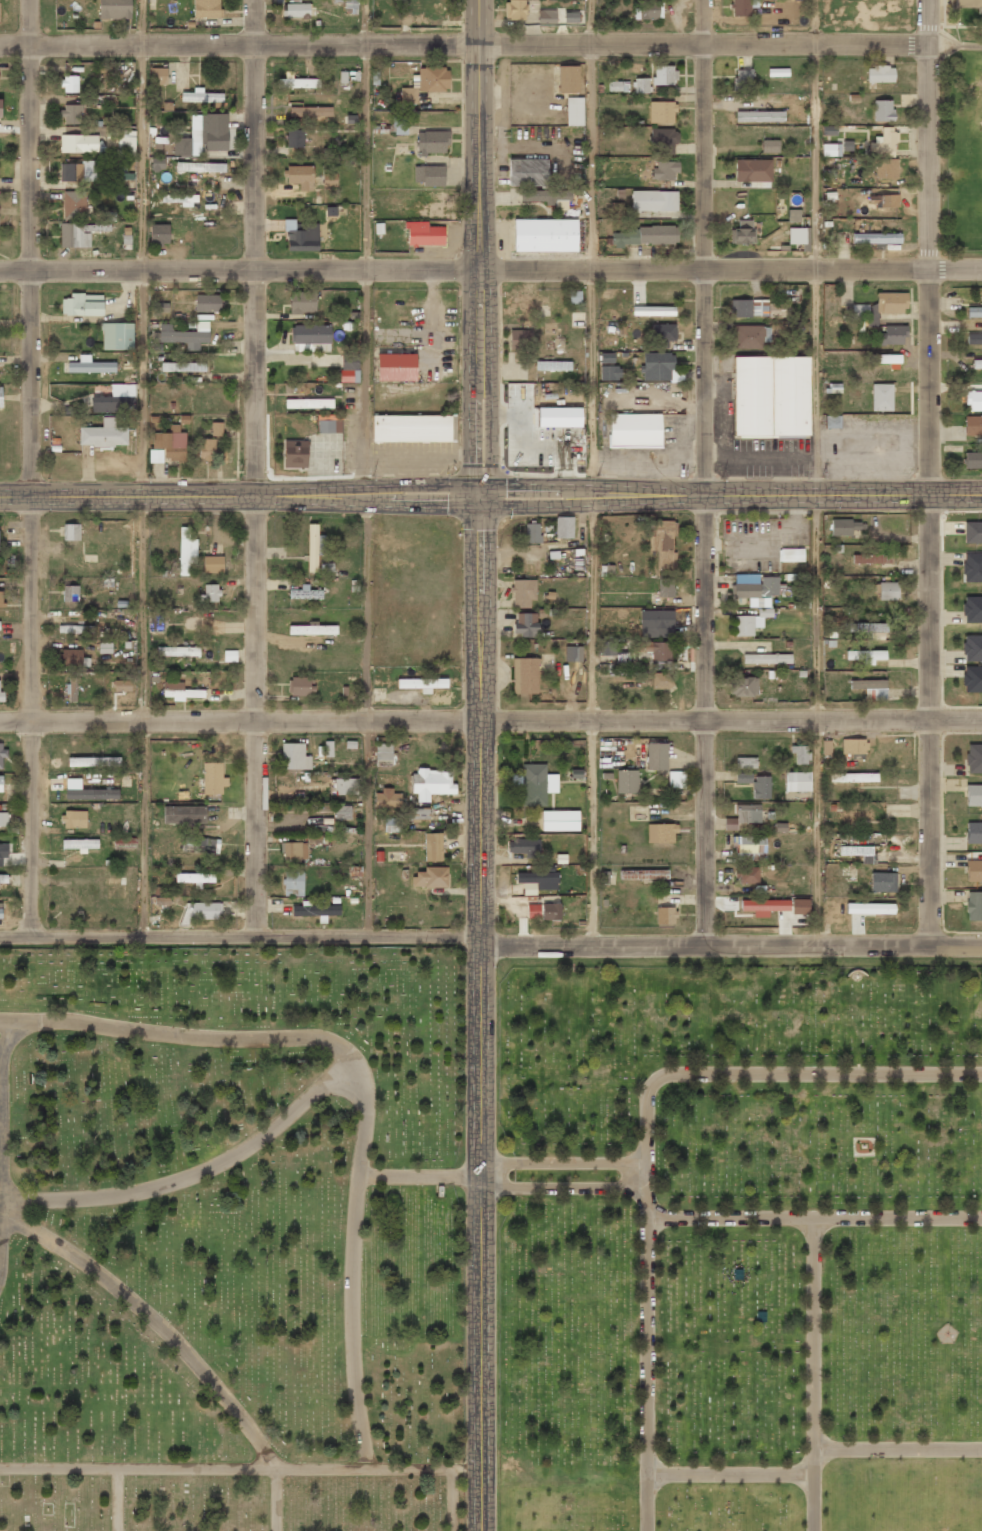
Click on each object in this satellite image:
building: (967, 3)
building: (742, 7)
building: (207, 8)
building: (114, 9)
building: (514, 9)
building: (295, 10)
building: (648, 10)
building: (547, 16)
building: (570, 17)
road: (464, 46)
building: (880, 73)
building: (158, 75)
building: (664, 75)
building: (432, 78)
building: (568, 79)
building: (742, 79)
building: (297, 81)
building: (69, 84)
building: (641, 85)
building: (409, 95)
building: (200, 96)
building: (0, 107)
building: (743, 109)
building: (883, 110)
building: (310, 111)
building: (574, 111)
building: (661, 112)
building: (72, 114)
building: (400, 125)
building: (829, 130)
building: (214, 132)
building: (294, 138)
building: (663, 140)
building: (884, 141)
building: (432, 142)
building: (79, 143)
building: (126, 143)
building: (188, 144)
building: (769, 146)
building: (831, 149)
building: (157, 164)
building: (200, 167)
building: (886, 168)
building: (664, 170)
building: (752, 170)
building: (78, 171)
building: (527, 172)
building: (429, 175)
building: (300, 176)
building: (329, 179)
building: (545, 195)
building: (180, 199)
building: (654, 200)
building: (886, 200)
building: (74, 204)
building: (438, 210)
building: (793, 215)
building: (159, 233)
building: (742, 233)
building: (424, 234)
building: (545, 235)
building: (644, 235)
building: (796, 235)
building: (303, 237)
building: (876, 238)
road: (477, 246)
road: (491, 270)
building: (574, 296)
building: (302, 301)
building: (207, 302)
building: (82, 304)
building: (518, 305)
building: (160, 307)
building: (748, 307)
building: (878, 307)
building: (653, 310)
building: (974, 311)
building: (662, 334)
building: (892, 334)
building: (185, 335)
building: (117, 336)
building: (750, 336)
building: (311, 337)
building: (974, 338)
building: (520, 339)
building: (884, 358)
building: (977, 363)
building: (553, 365)
building: (91, 366)
building: (656, 366)
building: (183, 367)
building: (396, 367)
building: (608, 367)
building: (349, 369)
building: (771, 396)
building: (0, 397)
building: (881, 397)
building: (115, 400)
building: (974, 400)
building: (308, 402)
building: (558, 417)
building: (329, 423)
building: (973, 425)
building: (216, 428)
building: (411, 428)
building: (634, 429)
building: (103, 434)
building: (170, 443)
building: (207, 449)
building: (295, 453)
building: (155, 455)
building: (973, 460)
road: (32, 467)
road: (141, 467)
road: (251, 467)
road: (366, 467)
road: (592, 469)
road: (817, 472)
road: (706, 473)
road: (934, 473)
road: (240, 492)
road: (732, 492)
building: (844, 526)
building: (564, 527)
building: (71, 532)
building: (532, 532)
building: (972, 532)
building: (662, 542)
building: (314, 546)
building: (186, 551)
building: (790, 554)
building: (871, 558)
building: (213, 564)
building: (972, 567)
building: (665, 587)
building: (755, 588)
building: (888, 590)
building: (523, 592)
building: (70, 593)
building: (210, 593)
building: (306, 593)
building: (1, 599)
building: (972, 609)
building: (656, 623)
building: (526, 624)
building: (747, 624)
building: (864, 627)
building: (76, 629)
building: (312, 629)
building: (105, 647)
building: (607, 647)
building: (972, 647)
building: (655, 649)
building: (178, 651)
building: (573, 653)
building: (766, 658)
building: (525, 675)
building: (972, 678)
building: (661, 680)
building: (422, 684)
building: (122, 685)
building: (302, 686)
building: (743, 686)
building: (870, 688)
building: (72, 689)
building: (177, 689)
building: (2, 696)
road: (491, 721)
building: (853, 746)
building: (328, 748)
building: (383, 751)
building: (2, 753)
building: (800, 754)
building: (294, 756)
building: (656, 756)
building: (974, 758)
building: (94, 761)
building: (745, 762)
building: (743, 777)
building: (853, 777)
building: (213, 778)
building: (676, 779)
building: (626, 781)
building: (796, 781)
building: (1, 783)
building: (432, 783)
building: (535, 784)
building: (345, 786)
building: (761, 787)
building: (91, 794)
building: (973, 795)
building: (387, 798)
building: (343, 812)
building: (184, 815)
building: (743, 815)
building: (855, 815)
building: (3, 818)
building: (74, 819)
building: (560, 820)
building: (390, 824)
building: (661, 832)
building: (974, 832)
building: (124, 842)
building: (80, 844)
building: (200, 844)
building: (433, 846)
building: (749, 846)
building: (524, 847)
building: (293, 850)
building: (3, 852)
building: (858, 852)
building: (973, 870)
building: (643, 874)
building: (747, 874)
building: (430, 877)
building: (3, 878)
building: (195, 878)
building: (537, 881)
building: (883, 882)
building: (293, 883)
building: (974, 905)
building: (764, 906)
building: (800, 906)
building: (870, 908)
building: (205, 910)
building: (315, 910)
building: (533, 911)
building: (550, 911)
building: (0, 913)
building: (665, 915)
road: (464, 935)
road: (955, 947)
road: (480, 1011)
road: (774, 1073)
road: (562, 1160)
road: (562, 1188)
road: (813, 1217)
park: (487, 1242)
road: (645, 1345)
road: (812, 1374)
road: (897, 1447)
road: (729, 1474)

